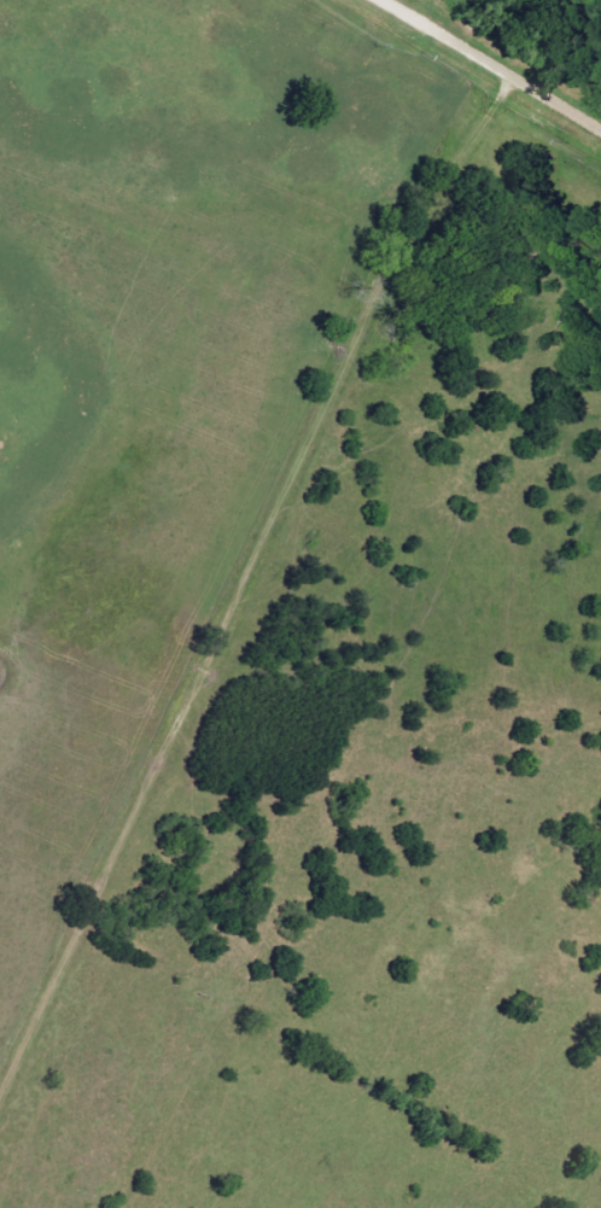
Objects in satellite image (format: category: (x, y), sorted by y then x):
road: (491, 65)

